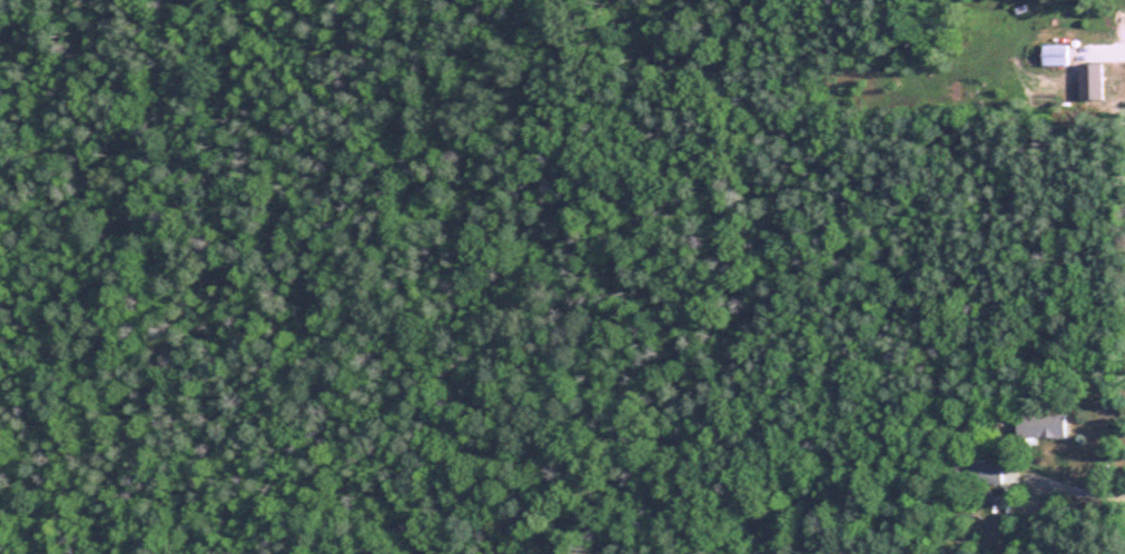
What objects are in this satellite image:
building: (1054, 55)
building: (1088, 77)
building: (1040, 425)
building: (984, 472)
road: (1073, 482)

